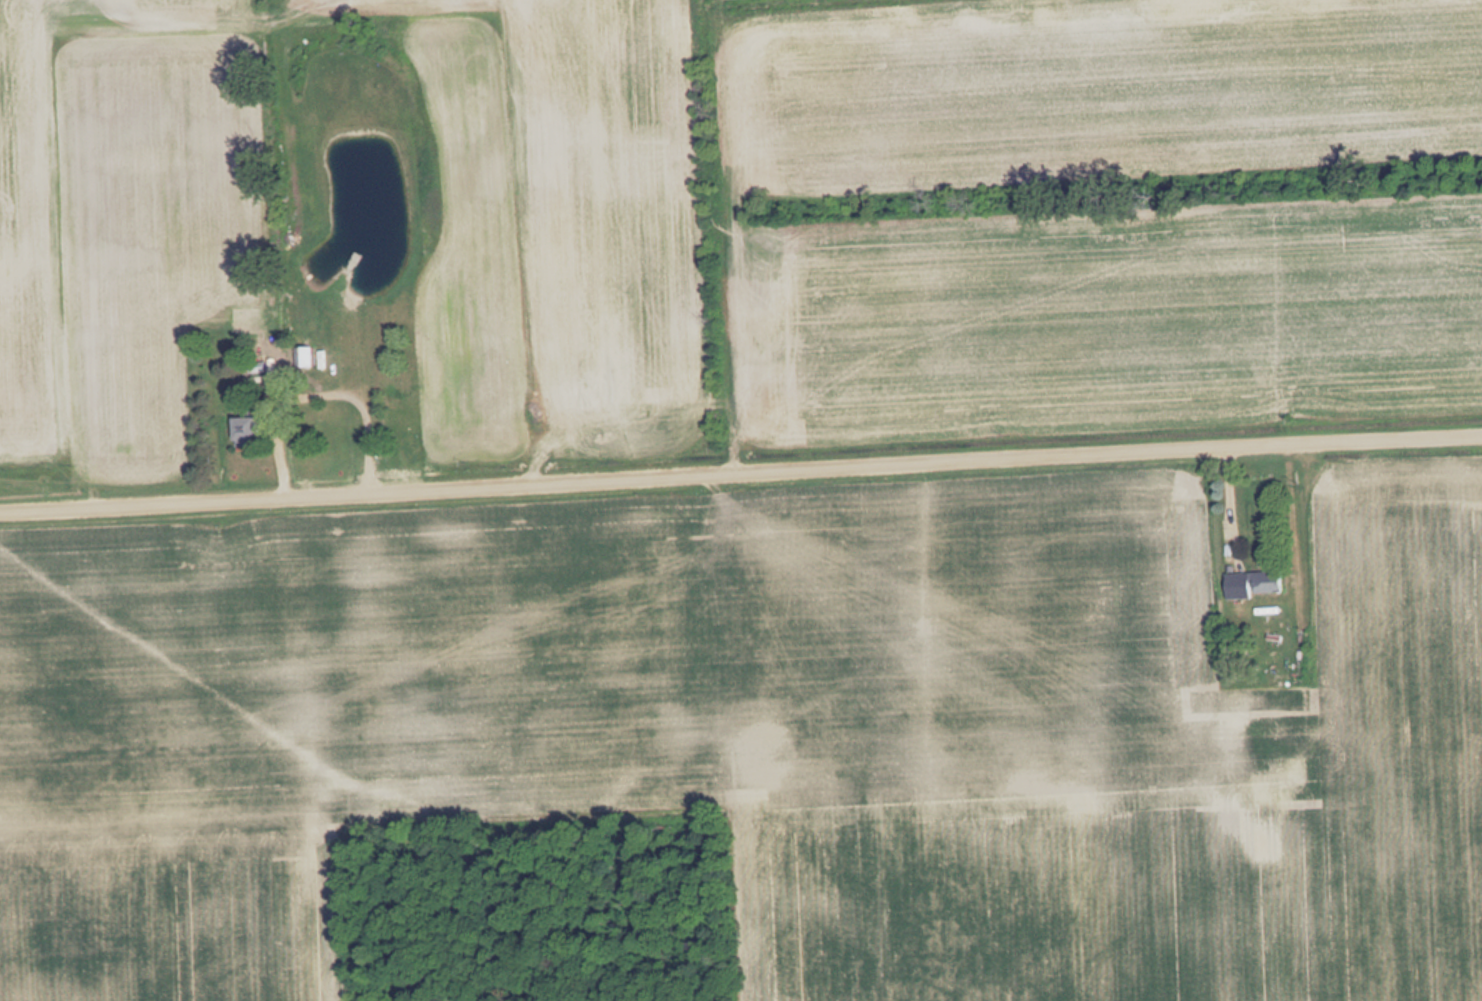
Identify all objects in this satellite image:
building: (306, 356)
building: (248, 430)
road: (741, 472)
building: (1255, 583)
building: (1291, 762)

